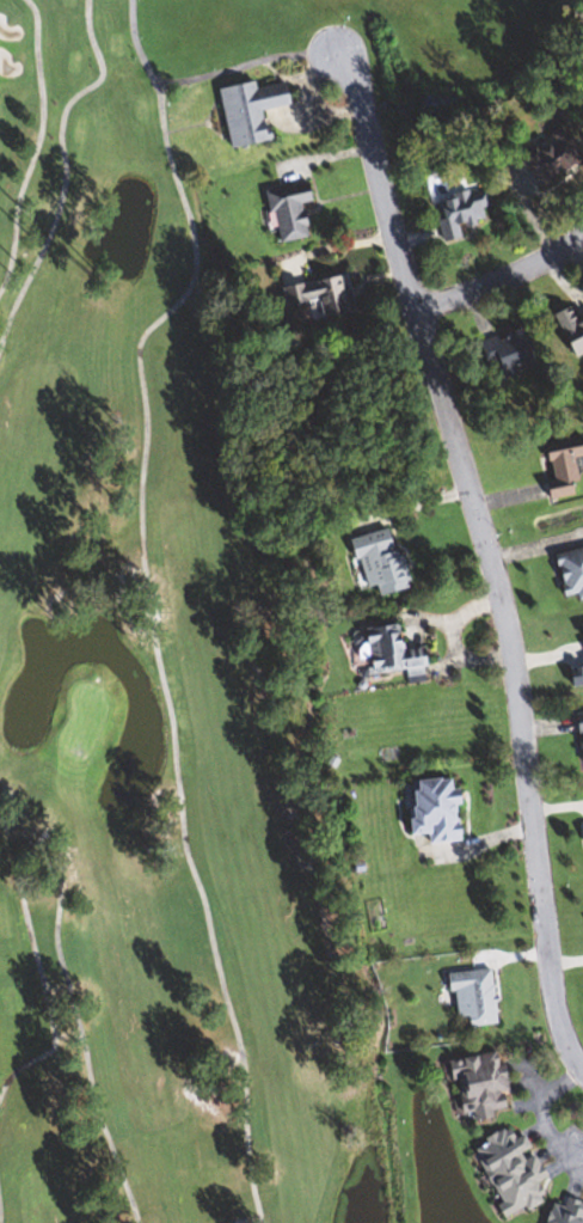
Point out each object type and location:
building: (257, 110)
building: (554, 157)
building: (295, 209)
building: (462, 212)
road: (333, 246)
road: (502, 281)
building: (326, 295)
building: (572, 324)
building: (513, 354)
building: (567, 469)
road: (413, 503)
road: (493, 557)
building: (386, 561)
building: (572, 570)
building: (397, 652)
building: (582, 723)
building: (444, 809)
building: (477, 996)
building: (484, 1083)
road: (544, 1118)
building: (516, 1168)
building: (569, 1212)

